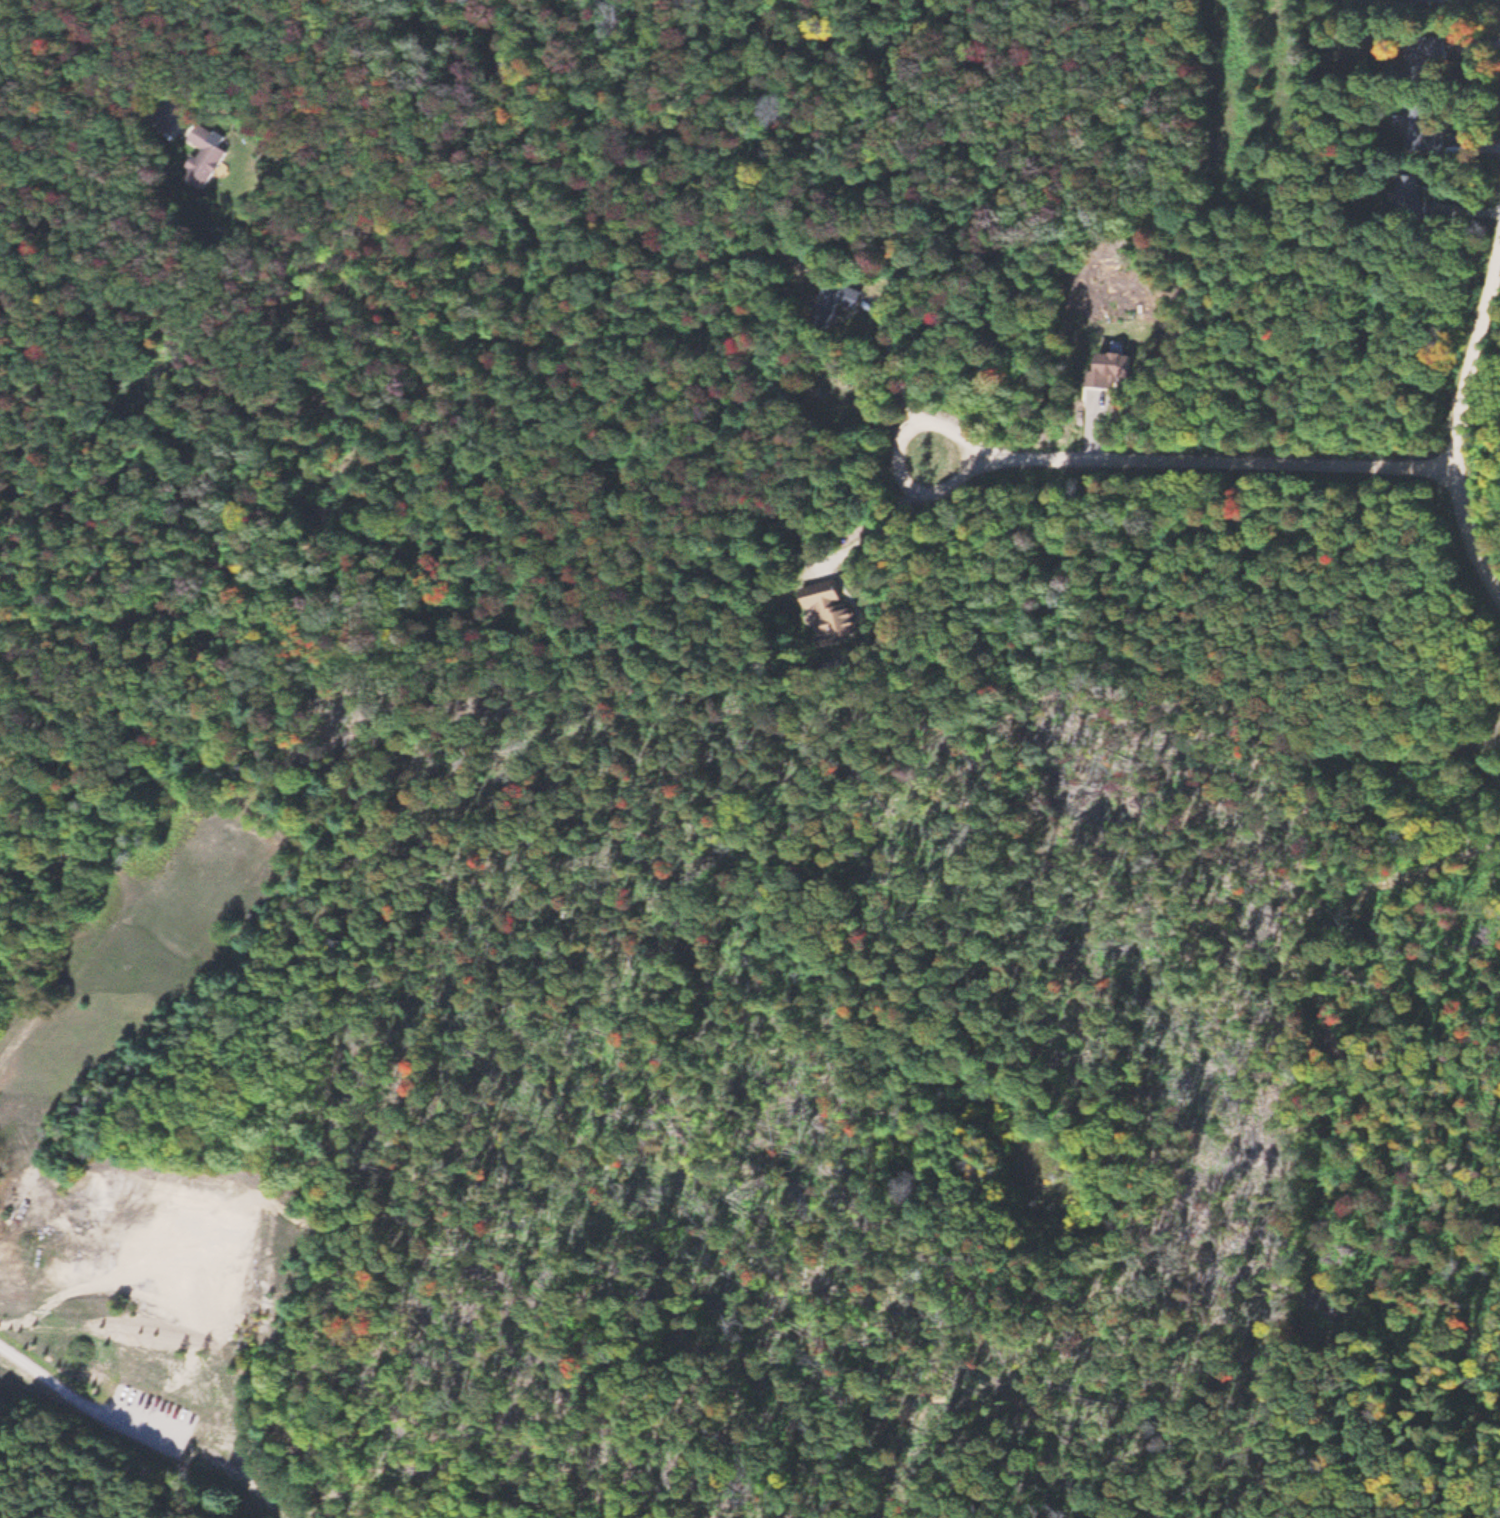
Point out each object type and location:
building: (1427, 0)
building: (1425, 55)
building: (1424, 130)
building: (208, 156)
building: (1414, 196)
road: (360, 205)
building: (834, 302)
building: (1113, 369)
road: (1455, 432)
road: (1191, 465)
building: (833, 613)
road: (89, 1396)
parking lot: (120, 1397)
road: (103, 1487)

